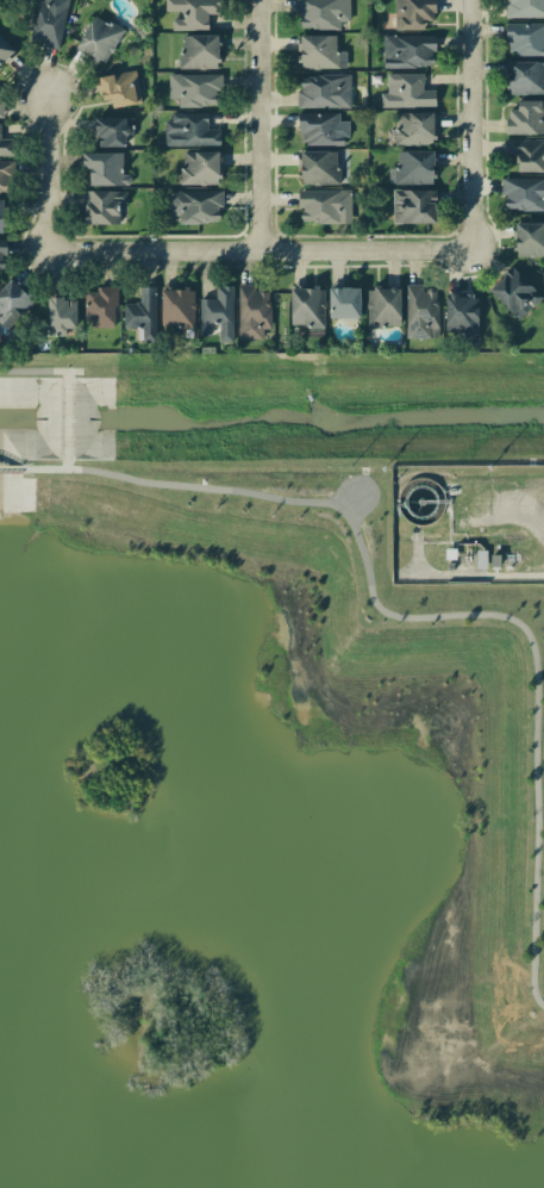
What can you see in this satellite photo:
building: (524, 8)
building: (192, 13)
building: (321, 13)
building: (413, 13)
building: (48, 23)
building: (99, 39)
building: (525, 39)
building: (408, 50)
building: (5, 51)
building: (199, 51)
building: (320, 52)
building: (525, 77)
building: (119, 88)
building: (194, 89)
building: (324, 92)
building: (406, 92)
building: (1, 108)
road: (267, 124)
road: (480, 124)
building: (414, 127)
building: (189, 130)
building: (321, 130)
building: (112, 131)
building: (5, 147)
building: (526, 154)
building: (324, 167)
building: (105, 168)
building: (200, 168)
building: (412, 168)
road: (48, 176)
building: (5, 178)
building: (523, 193)
building: (102, 206)
building: (194, 206)
building: (324, 206)
building: (413, 206)
building: (1, 216)
building: (529, 240)
road: (263, 249)
building: (2, 255)
building: (514, 292)
building: (13, 303)
building: (344, 303)
building: (100, 307)
building: (177, 307)
building: (307, 307)
building: (383, 307)
building: (252, 312)
building: (421, 312)
building: (218, 313)
building: (142, 315)
building: (61, 316)
building: (462, 316)
road: (11, 469)
road: (52, 469)
wastewater plant: (467, 524)
road: (475, 576)
road: (452, 614)
park: (262, 840)

